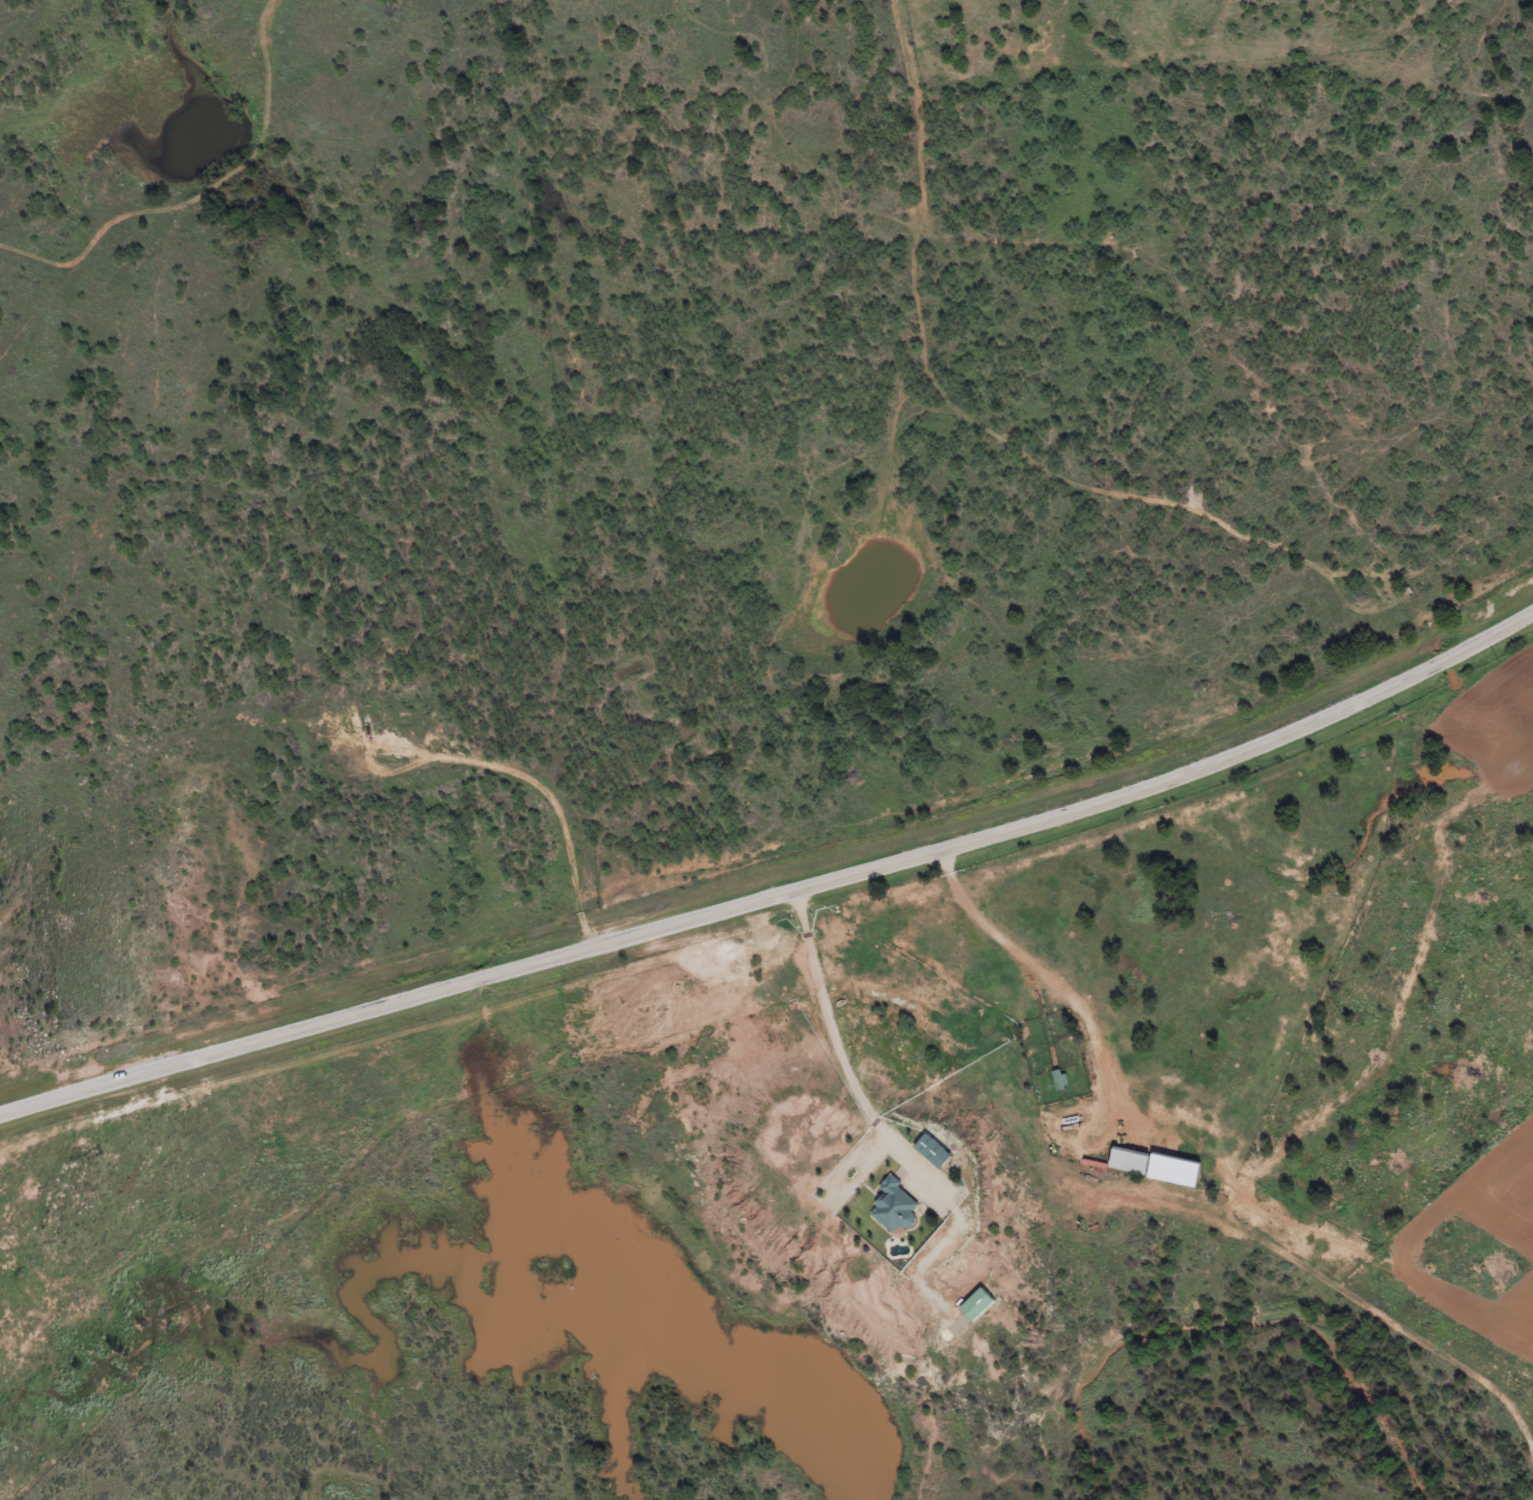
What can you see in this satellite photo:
road: (778, 891)
building: (1055, 1078)
building: (935, 1150)
building: (1124, 1161)
building: (895, 1205)
building: (979, 1303)

